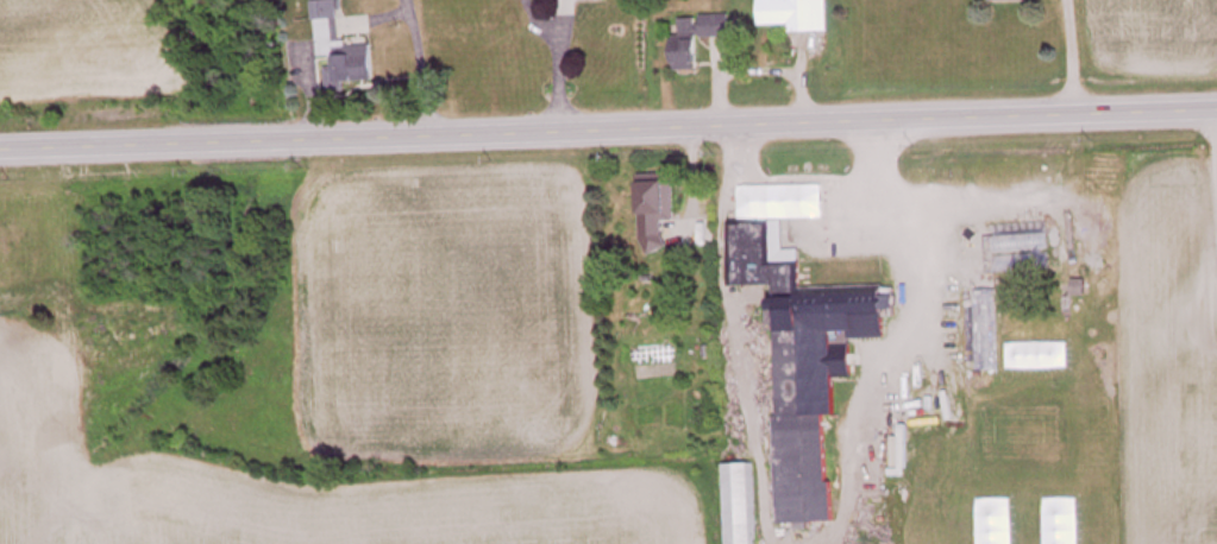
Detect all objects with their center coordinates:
building: (1010, 1)
building: (796, 15)
building: (698, 38)
building: (341, 55)
road: (608, 126)
building: (657, 211)
building: (1079, 290)
building: (986, 349)
building: (804, 369)
building: (739, 505)

